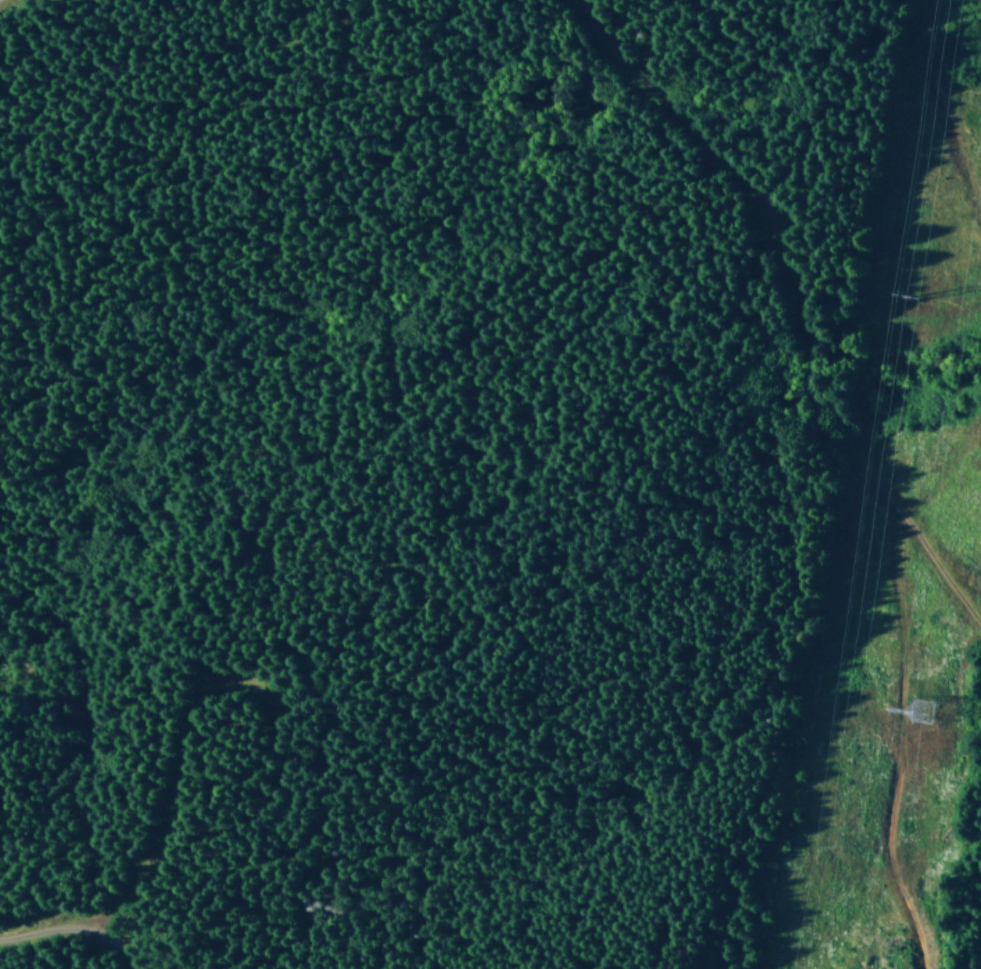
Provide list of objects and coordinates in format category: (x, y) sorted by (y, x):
power tower: (910, 298)
power tower: (921, 711)

